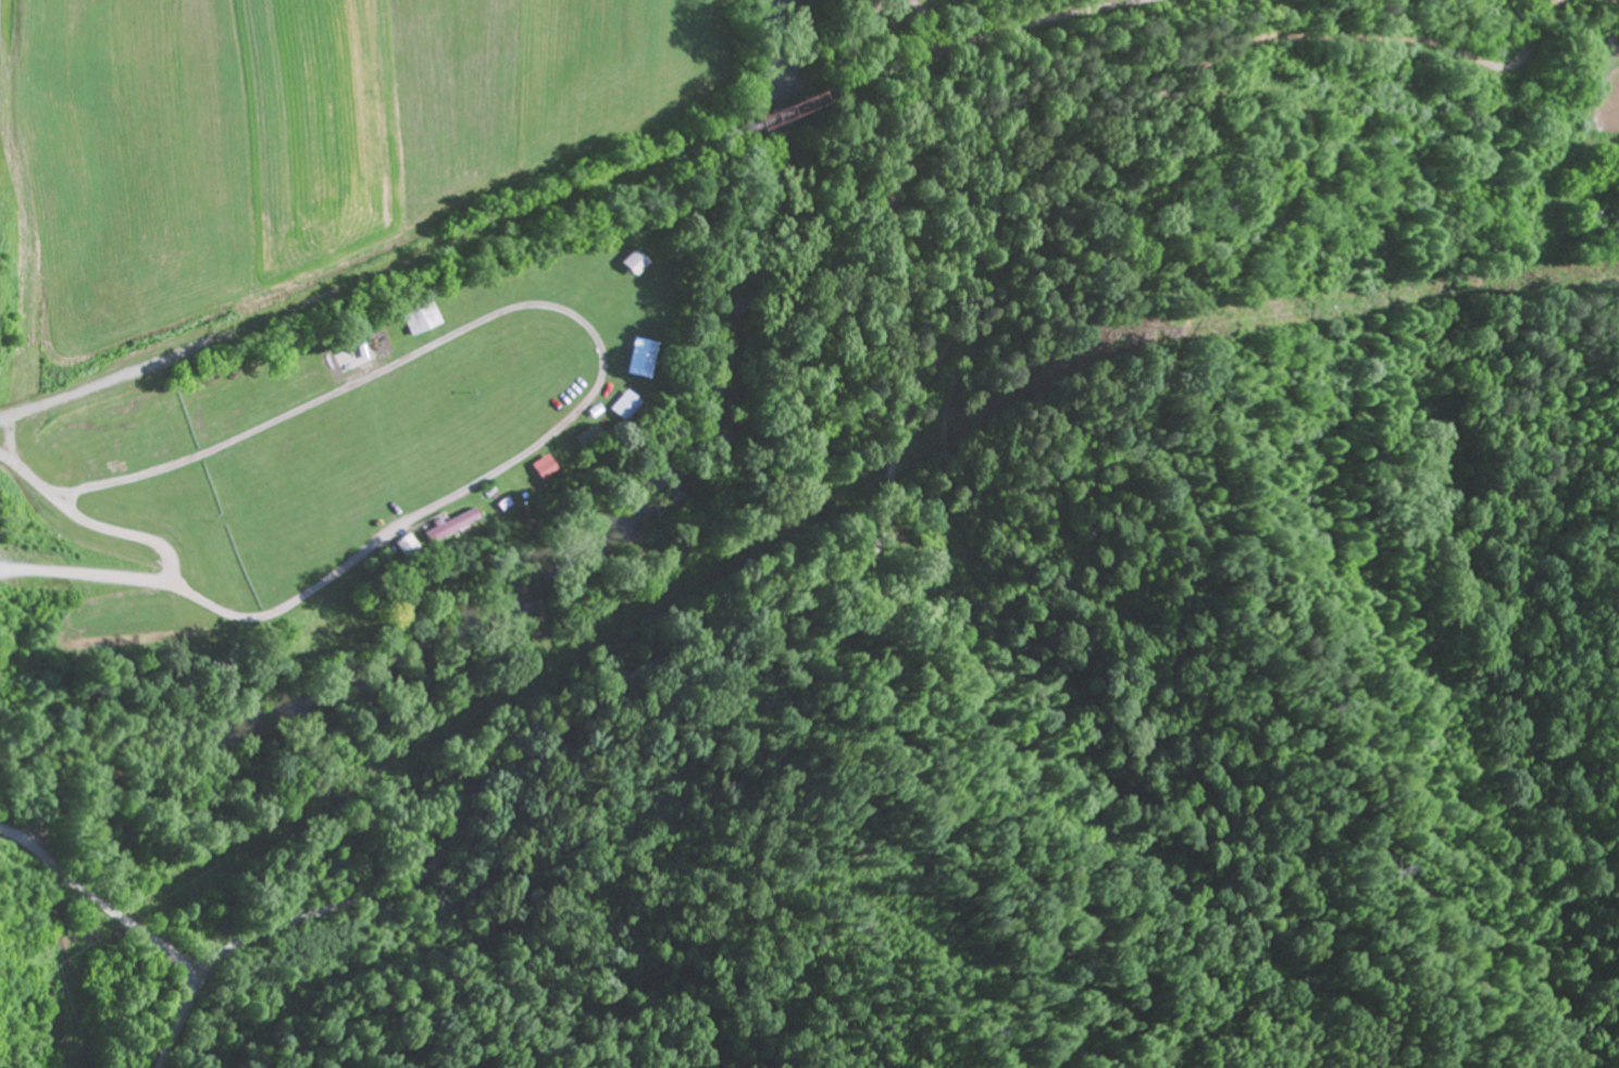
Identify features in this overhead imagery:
road: (996, 35)
road: (769, 120)
building: (628, 265)
road: (354, 288)
building: (424, 320)
building: (617, 408)
building: (537, 470)
building: (445, 527)
river: (572, 552)
road: (251, 570)
road: (755, 606)
road: (771, 653)
road: (135, 927)

